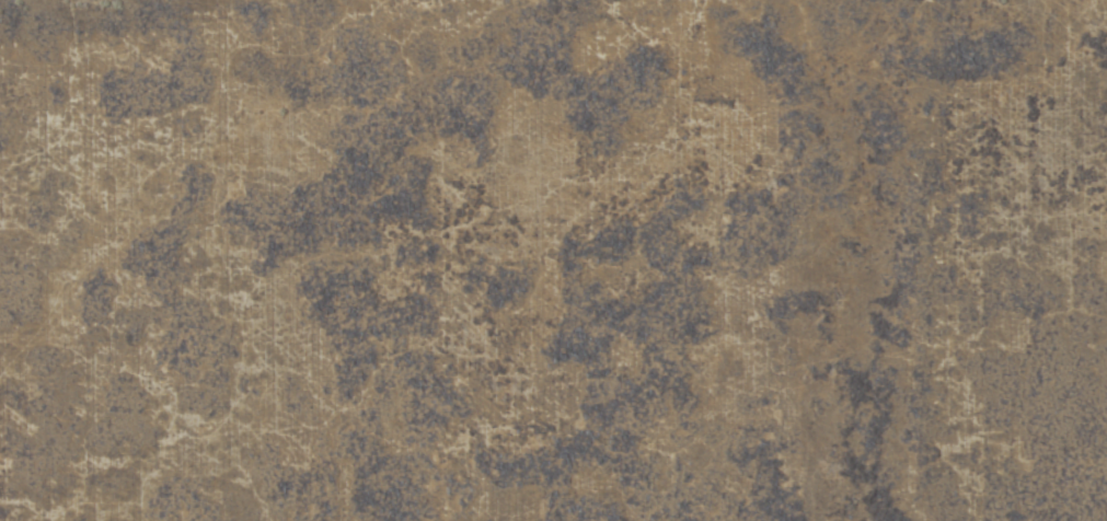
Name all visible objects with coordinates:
crop: (553, 260)

